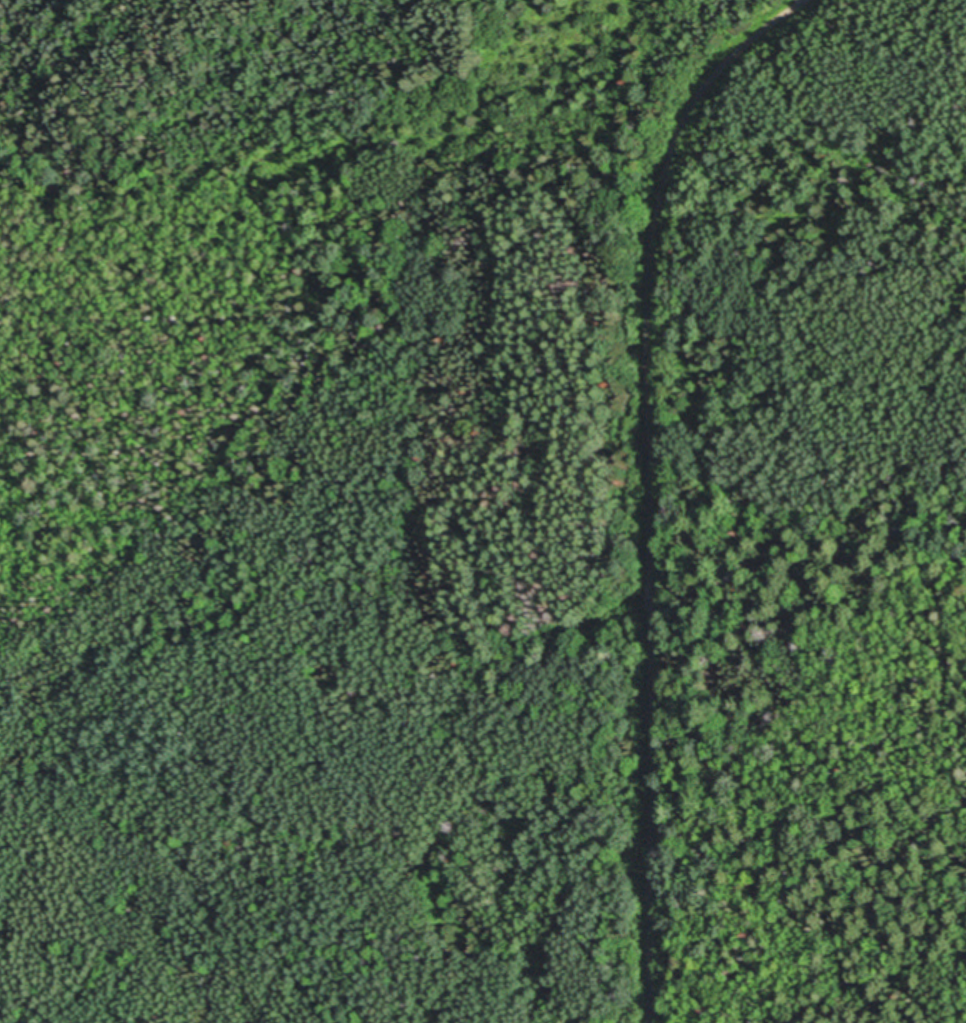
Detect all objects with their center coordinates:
road: (737, 80)
road: (622, 591)

